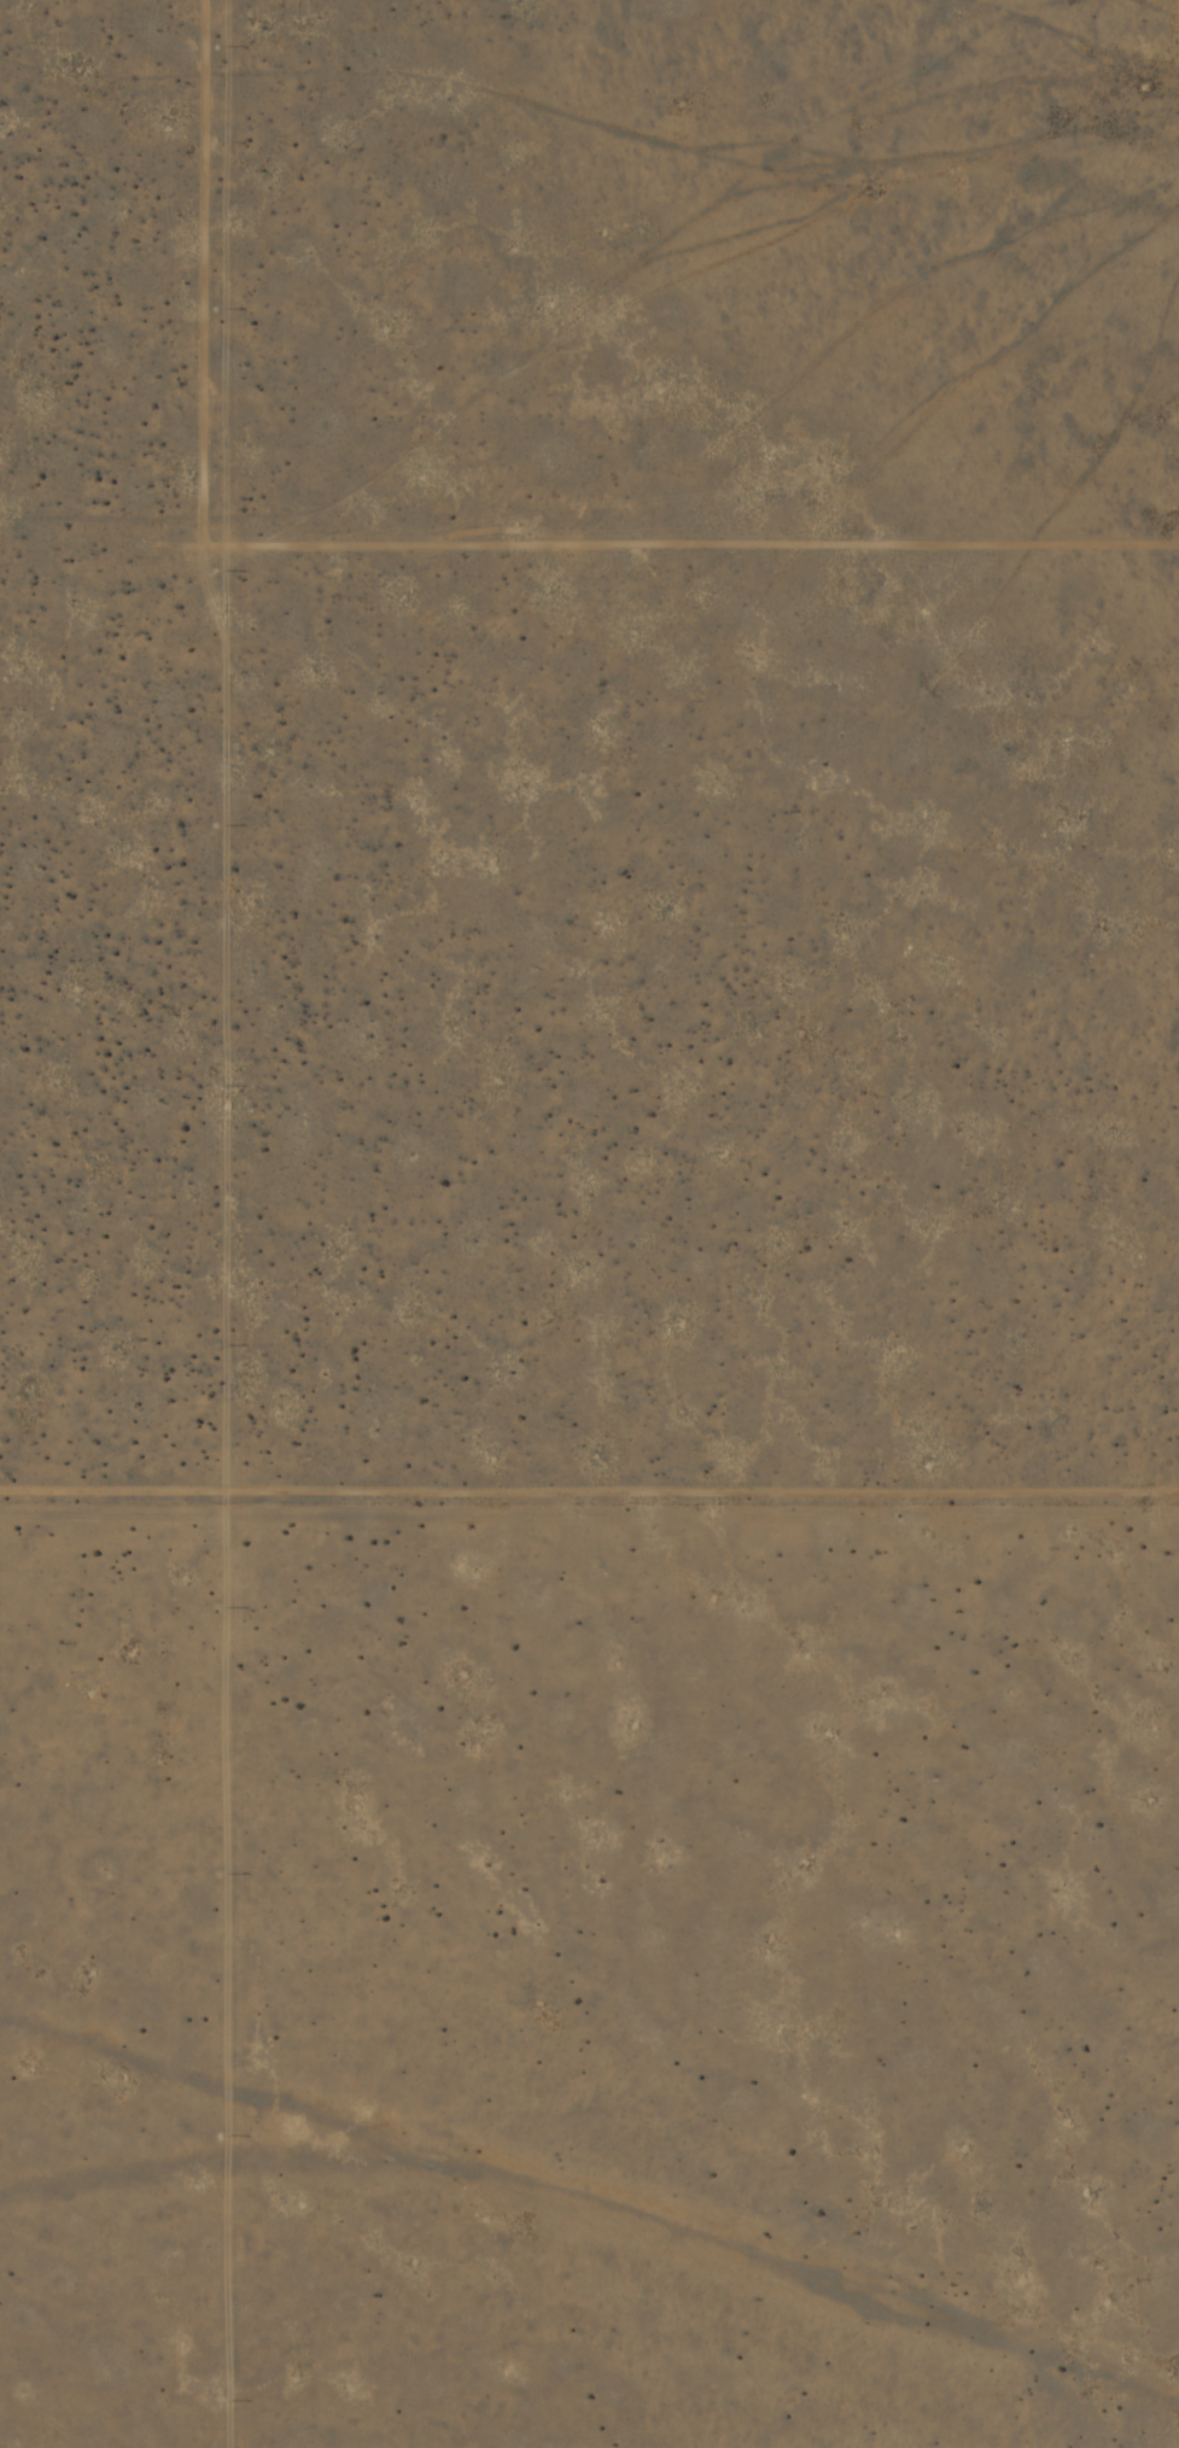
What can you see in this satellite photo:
road: (1139, 47)
road: (533, 311)

